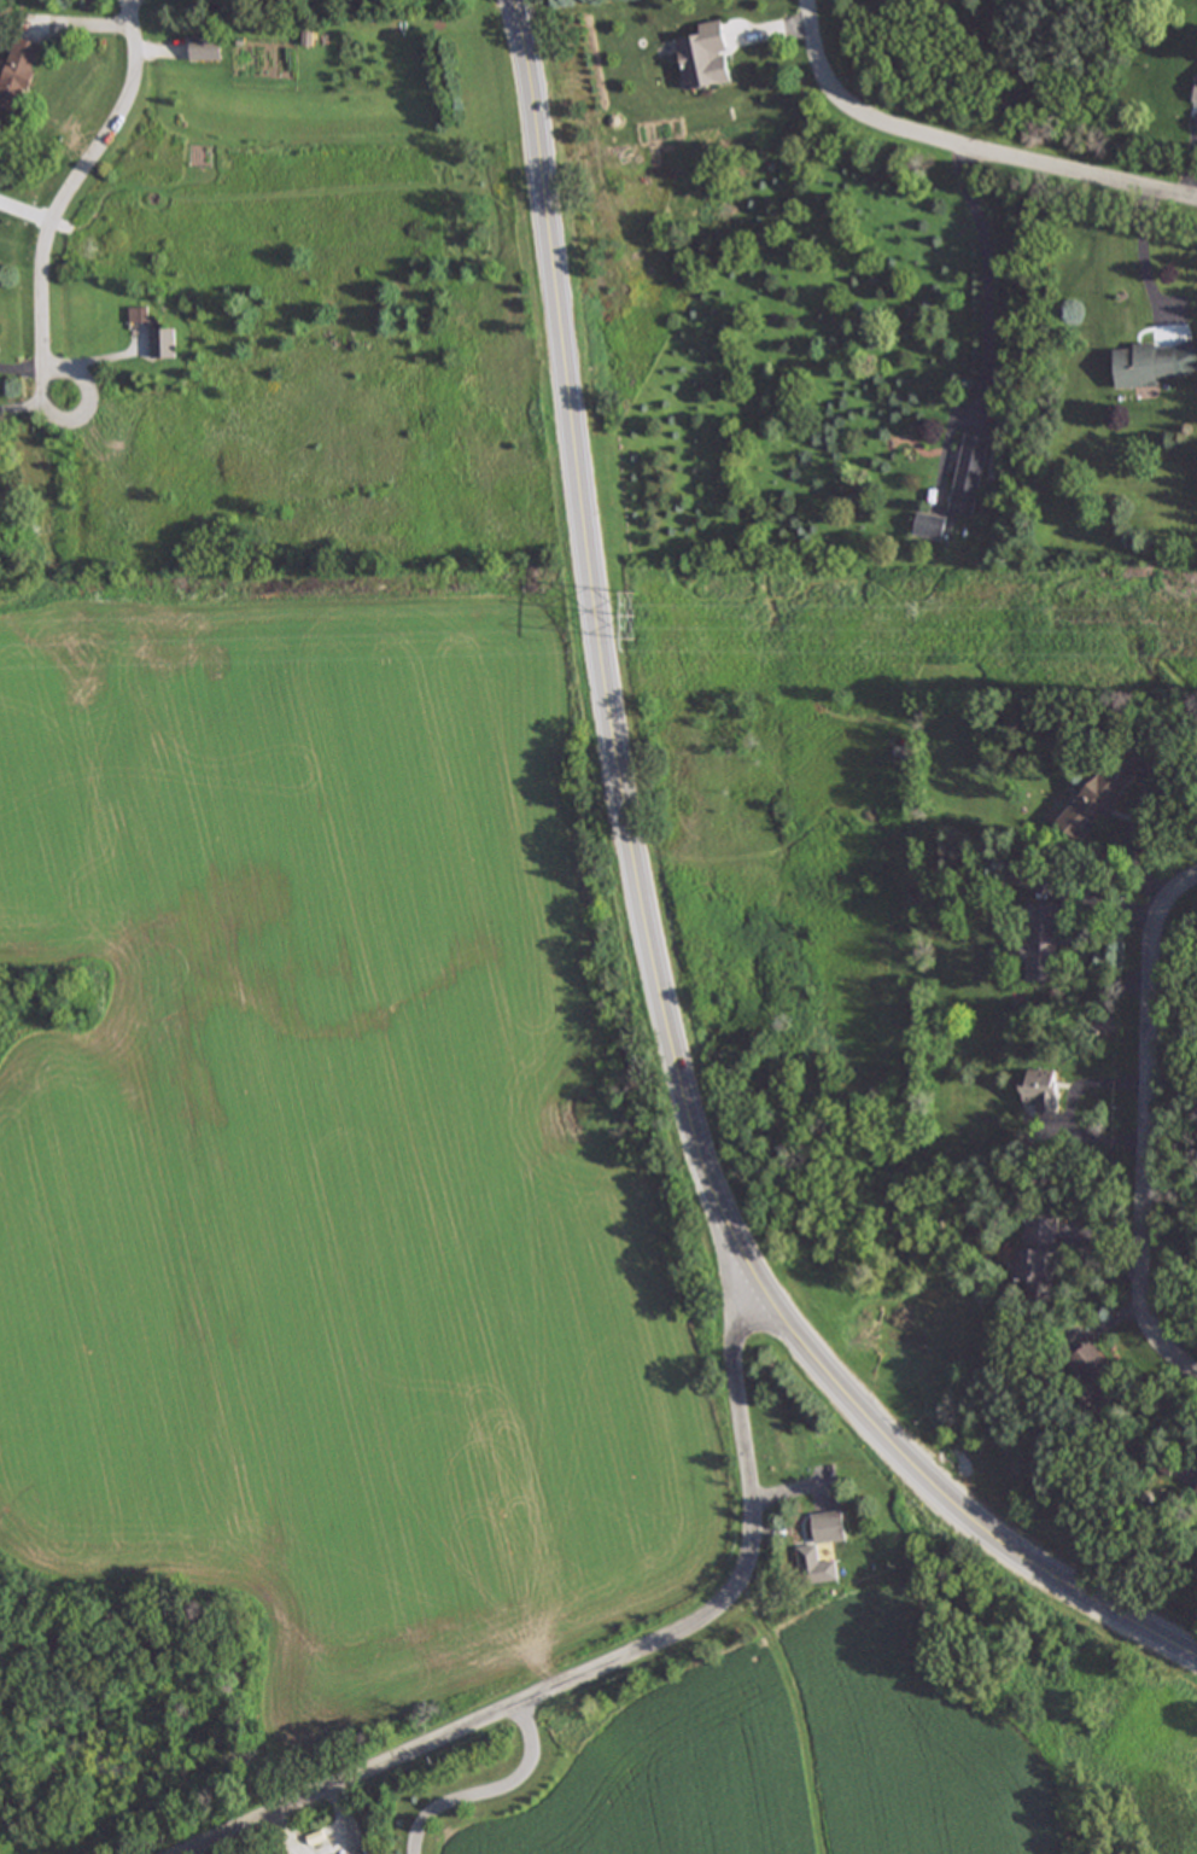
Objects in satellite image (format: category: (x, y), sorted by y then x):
building: (204, 47)
building: (705, 57)
building: (17, 72)
building: (1196, 97)
road: (956, 156)
road: (75, 177)
road: (1146, 274)
road: (986, 287)
building: (138, 315)
building: (162, 342)
building: (1143, 363)
road: (21, 401)
road: (81, 418)
building: (967, 474)
building: (928, 526)
power tower: (642, 623)
road: (598, 634)
building: (1107, 788)
building: (1041, 941)
building: (1040, 1090)
road: (1148, 1133)
building: (1037, 1260)
building: (1094, 1380)
road: (939, 1491)
building: (1196, 1493)
building: (807, 1553)
road: (650, 1662)
road: (480, 1795)

